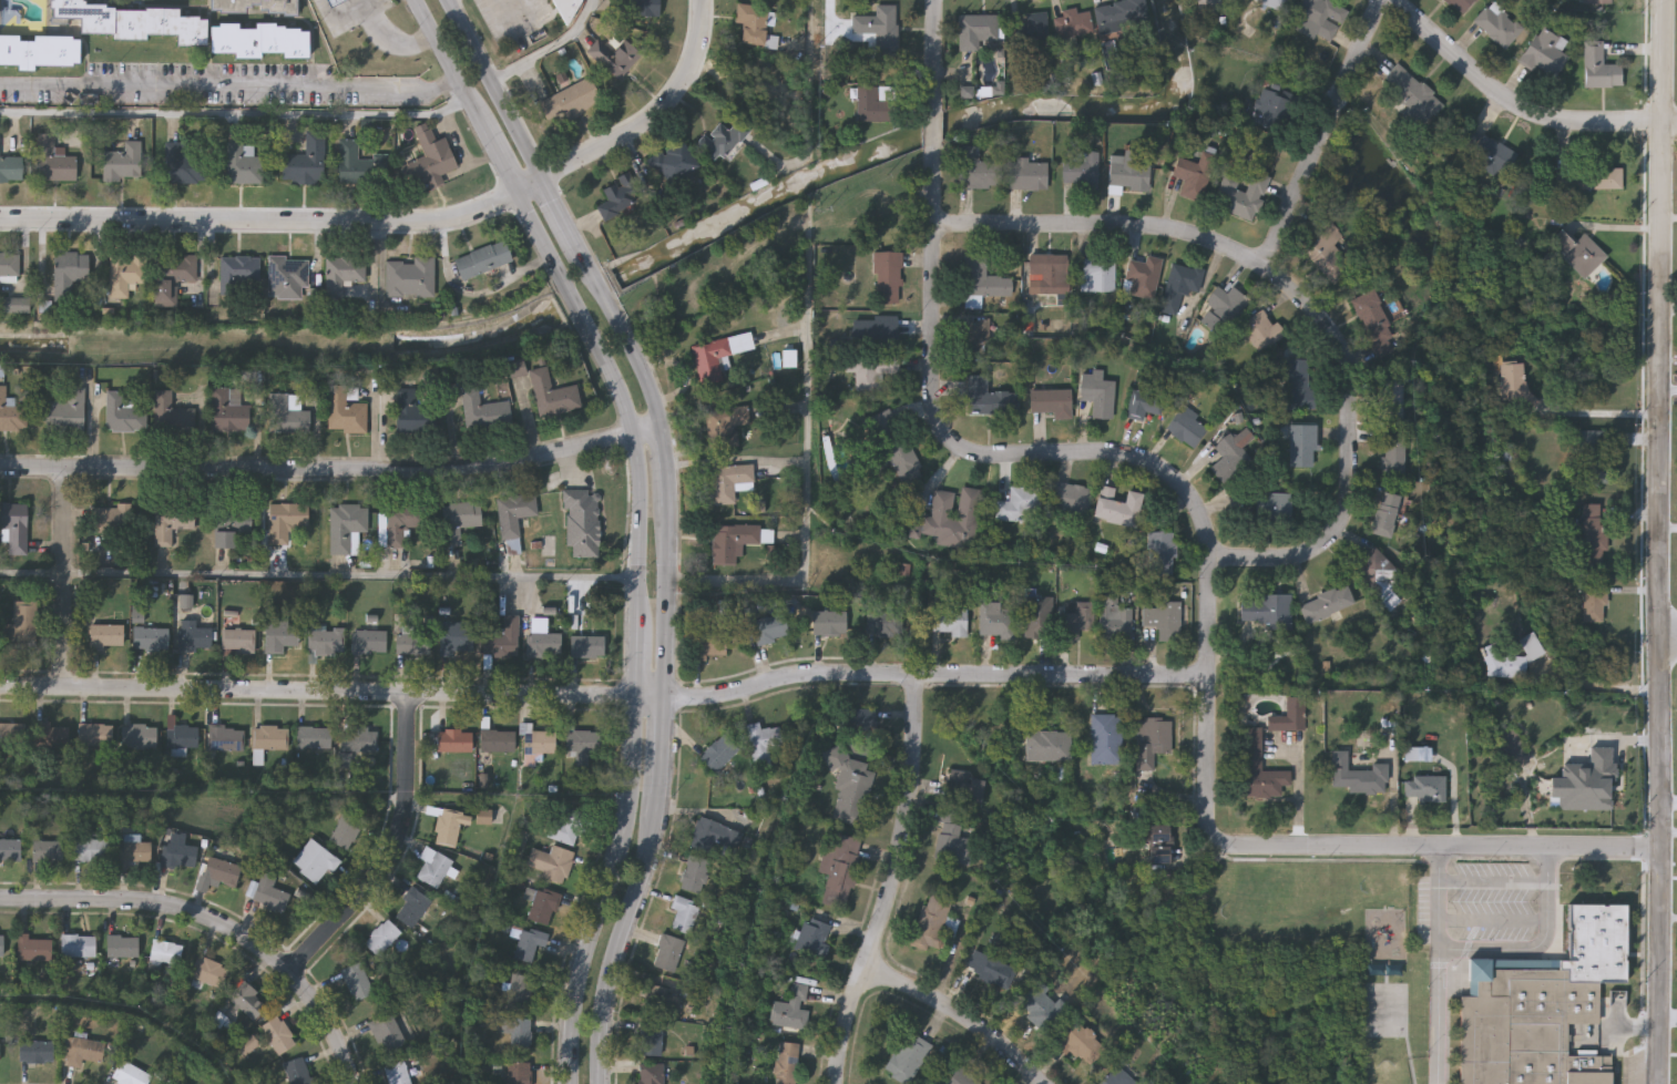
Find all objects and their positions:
road: (323, 1)
road: (331, 1)
building: (333, 2)
building: (1602, 2)
building: (1272, 3)
building: (1461, 4)
building: (1203, 7)
building: (278, 8)
building: (645, 8)
building: (566, 9)
road: (518, 11)
building: (1121, 16)
building: (1317, 17)
road: (342, 18)
parking lot: (515, 21)
building: (132, 23)
building: (753, 24)
building: (1072, 24)
building: (1499, 25)
building: (1037, 29)
building: (975, 31)
building: (879, 32)
building: (1018, 34)
building: (258, 40)
road: (392, 41)
road: (551, 49)
building: (39, 50)
building: (1544, 54)
road: (935, 55)
building: (614, 58)
building: (1598, 68)
road: (229, 90)
building: (1410, 95)
road: (811, 99)
building: (570, 102)
road: (1515, 103)
building: (1269, 109)
road: (236, 115)
road: (1328, 132)
road: (934, 133)
building: (732, 139)
building: (1493, 156)
building: (433, 158)
building: (673, 162)
building: (53, 163)
building: (124, 163)
building: (305, 164)
building: (185, 165)
building: (359, 166)
building: (244, 167)
building: (975, 170)
building: (11, 172)
building: (1081, 172)
building: (1027, 175)
building: (1196, 175)
building: (1127, 176)
building: (1591, 178)
building: (1240, 195)
building: (620, 197)
road: (406, 223)
road: (1106, 224)
building: (1576, 253)
building: (1328, 256)
building: (483, 263)
building: (10, 267)
building: (1143, 272)
building: (1050, 273)
building: (125, 275)
building: (237, 275)
building: (1097, 275)
building: (69, 276)
building: (342, 277)
building: (172, 278)
building: (888, 278)
building: (287, 280)
building: (410, 282)
building: (982, 283)
building: (1179, 286)
building: (16, 307)
building: (1224, 309)
building: (1373, 318)
building: (1262, 331)
building: (876, 333)
building: (714, 359)
building: (870, 371)
building: (1512, 381)
building: (1300, 387)
road: (1669, 389)
building: (1098, 396)
building: (1392, 396)
building: (553, 397)
building: (990, 398)
building: (1051, 401)
building: (1145, 402)
building: (228, 412)
building: (483, 413)
road: (1604, 413)
building: (65, 415)
building: (345, 415)
building: (11, 416)
building: (124, 416)
building: (172, 416)
building: (287, 416)
building: (412, 417)
building: (725, 426)
building: (1187, 428)
building: (1302, 446)
building: (894, 447)
road: (963, 449)
building: (1393, 452)
road: (1350, 454)
building: (1229, 459)
road: (808, 462)
road: (334, 471)
building: (728, 482)
building: (1071, 499)
building: (1019, 504)
building: (1118, 508)
building: (1271, 508)
building: (1385, 514)
building: (514, 515)
building: (953, 518)
road: (643, 519)
road: (674, 520)
building: (459, 521)
building: (109, 522)
building: (285, 523)
building: (171, 524)
building: (398, 525)
building: (582, 526)
building: (346, 529)
building: (13, 530)
building: (234, 530)
building: (1593, 535)
road: (1659, 541)
building: (733, 542)
building: (1162, 554)
building: (1373, 569)
road: (320, 576)
road: (63, 581)
building: (1594, 603)
building: (1326, 604)
building: (1265, 611)
building: (1114, 616)
building: (1036, 618)
building: (1076, 618)
building: (996, 620)
building: (1164, 620)
building: (950, 623)
building: (829, 624)
building: (884, 624)
building: (21, 628)
building: (769, 628)
road: (1668, 630)
building: (105, 638)
building: (193, 640)
building: (280, 640)
building: (151, 641)
building: (457, 642)
building: (326, 643)
building: (502, 643)
building: (543, 643)
building: (238, 644)
building: (370, 645)
building: (415, 646)
building: (708, 646)
building: (586, 650)
building: (1513, 657)
road: (1602, 688)
road: (603, 699)
road: (1205, 705)
building: (1290, 716)
building: (856, 720)
building: (12, 735)
building: (1155, 737)
building: (96, 738)
building: (140, 738)
building: (183, 739)
building: (1106, 739)
building: (51, 740)
building: (226, 740)
building: (270, 740)
building: (316, 740)
building: (362, 743)
building: (454, 743)
building: (763, 743)
building: (498, 744)
building: (538, 744)
building: (1049, 746)
building: (582, 747)
building: (718, 754)
building: (1258, 769)
building: (1358, 775)
building: (1558, 779)
building: (849, 786)
building: (965, 788)
building: (1425, 788)
building: (565, 828)
building: (450, 829)
building: (345, 834)
building: (715, 836)
building: (952, 838)
building: (1159, 843)
road: (1443, 848)
building: (9, 851)
building: (90, 852)
road: (395, 852)
building: (47, 853)
building: (131, 856)
building: (177, 858)
building: (314, 863)
building: (550, 865)
building: (433, 869)
building: (839, 870)
building: (221, 873)
building: (694, 875)
road: (1493, 882)
road: (894, 883)
building: (267, 896)
road: (1438, 898)
building: (541, 908)
building: (412, 910)
building: (684, 913)
building: (934, 920)
road: (216, 922)
road: (1492, 922)
building: (814, 934)
building: (382, 940)
building: (529, 945)
road: (1537, 945)
building: (1, 948)
building: (78, 949)
building: (122, 949)
building: (32, 951)
building: (668, 953)
building: (165, 954)
building: (990, 970)
building: (207, 974)
building: (356, 984)
building: (521, 994)
building: (659, 1001)
building: (248, 1004)
building: (1543, 1004)
building: (1040, 1006)
building: (793, 1009)
road: (967, 1013)
road: (1436, 1016)
building: (386, 1035)
building: (277, 1037)
building: (521, 1039)
building: (651, 1039)
building: (1081, 1045)
building: (81, 1053)
building: (34, 1054)
building: (908, 1059)
building: (786, 1063)
building: (297, 1073)
building: (396, 1074)
building: (519, 1074)
building: (651, 1074)
building: (127, 1075)
building: (1116, 1077)

